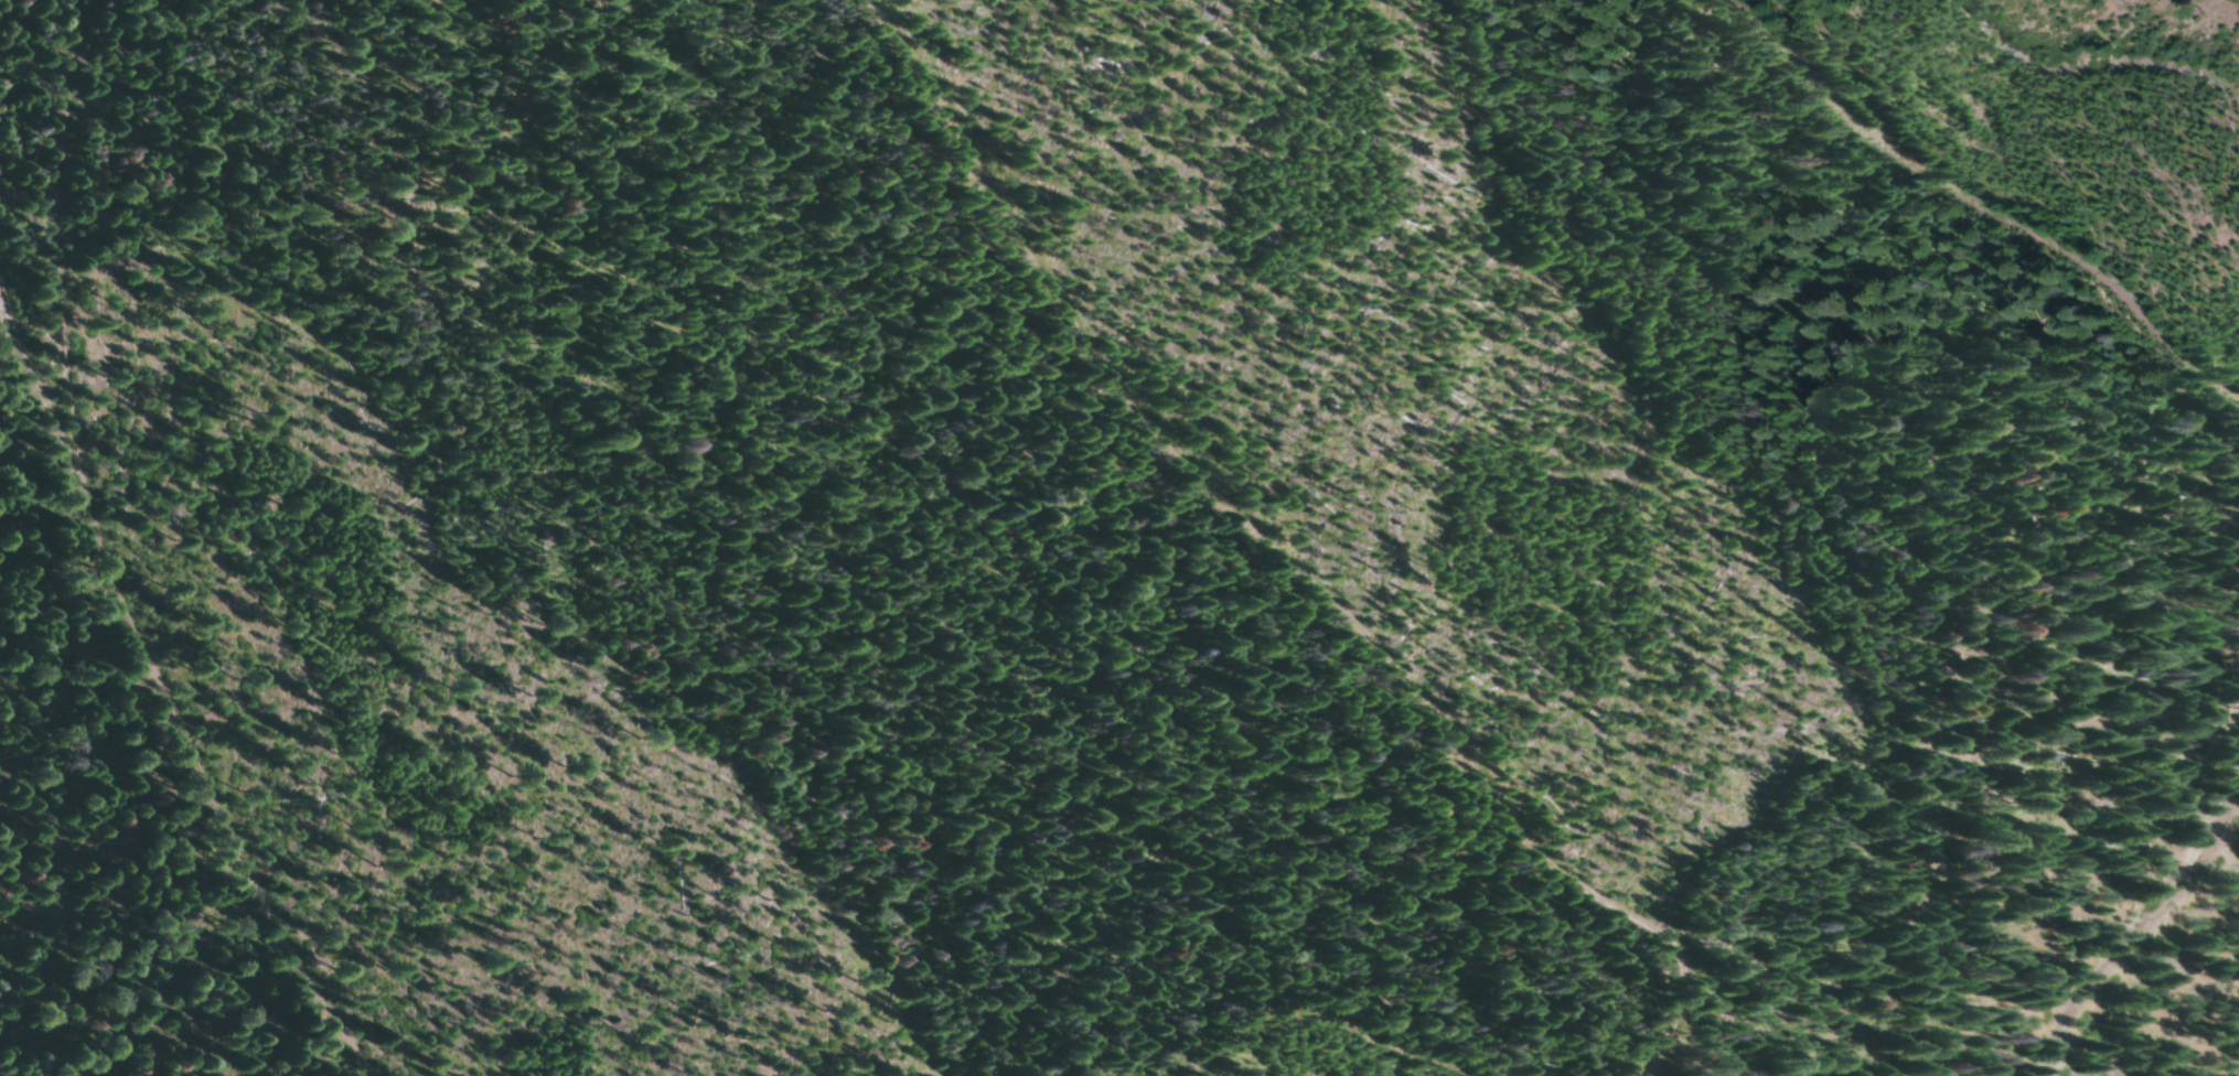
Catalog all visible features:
road: (1, 1)
road: (2163, 482)
road: (1247, 606)
road: (144, 742)

